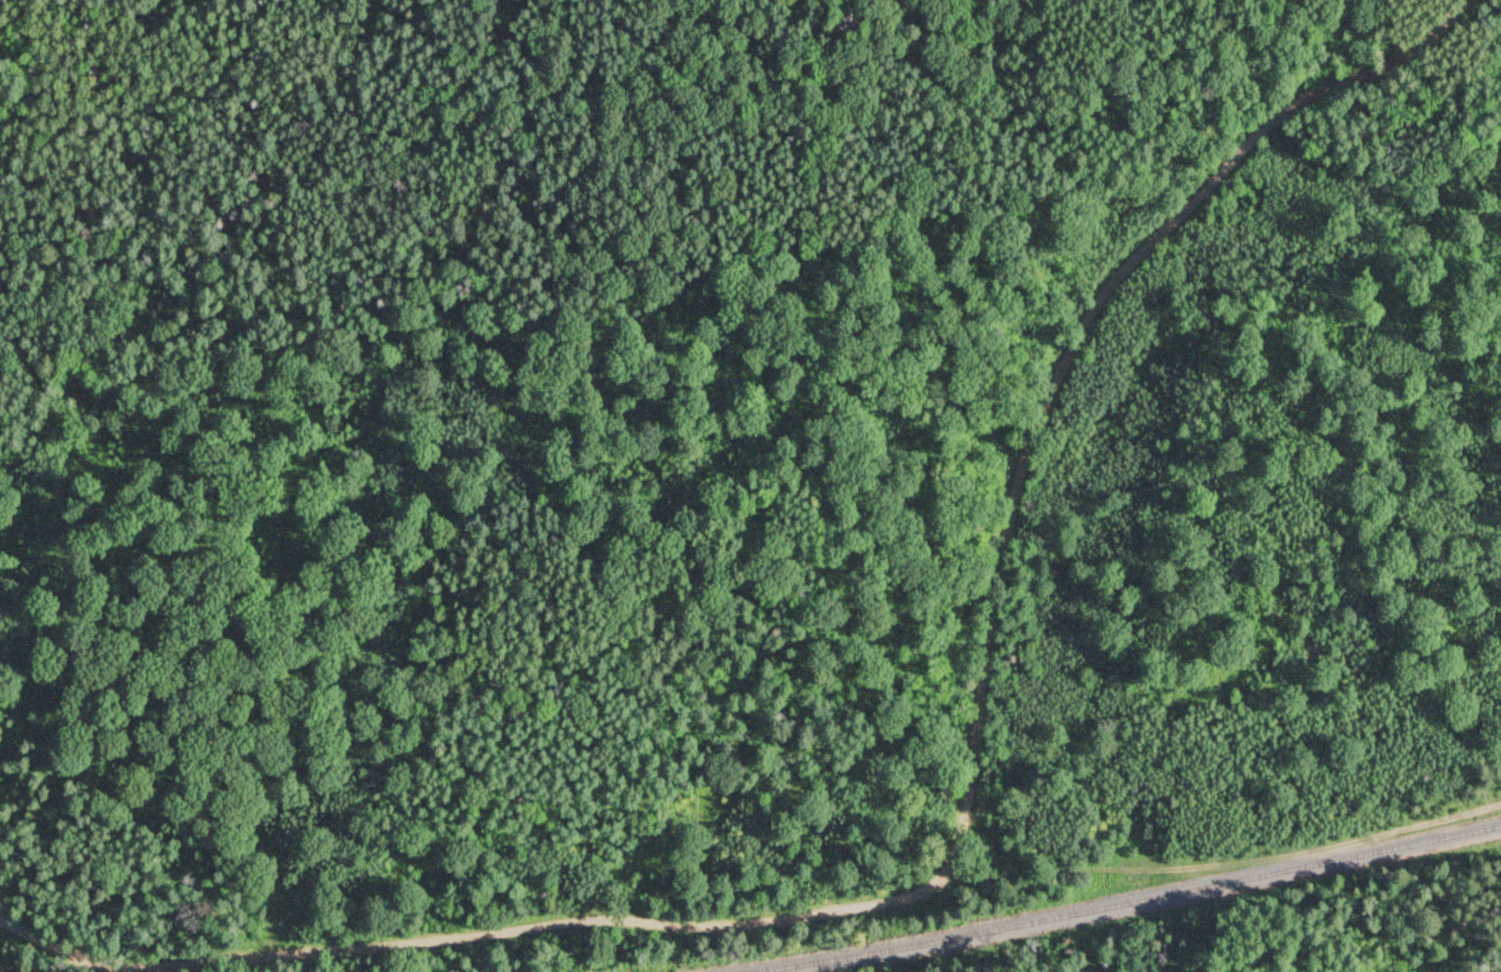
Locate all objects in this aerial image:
park: (750, 486)
road: (964, 823)
road: (994, 841)
road: (1225, 864)
railway: (1130, 904)

